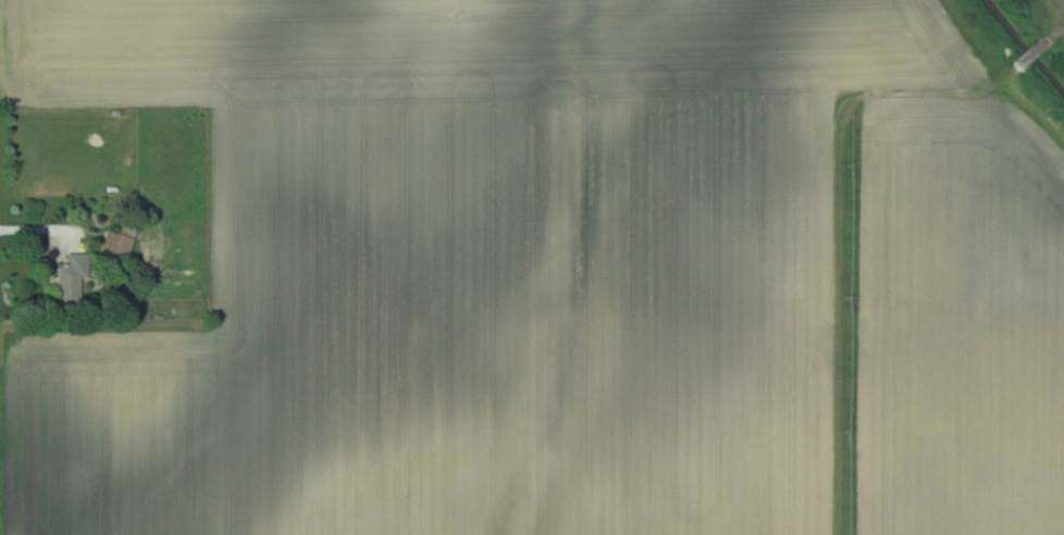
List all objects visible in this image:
building: (123, 242)
building: (76, 277)

